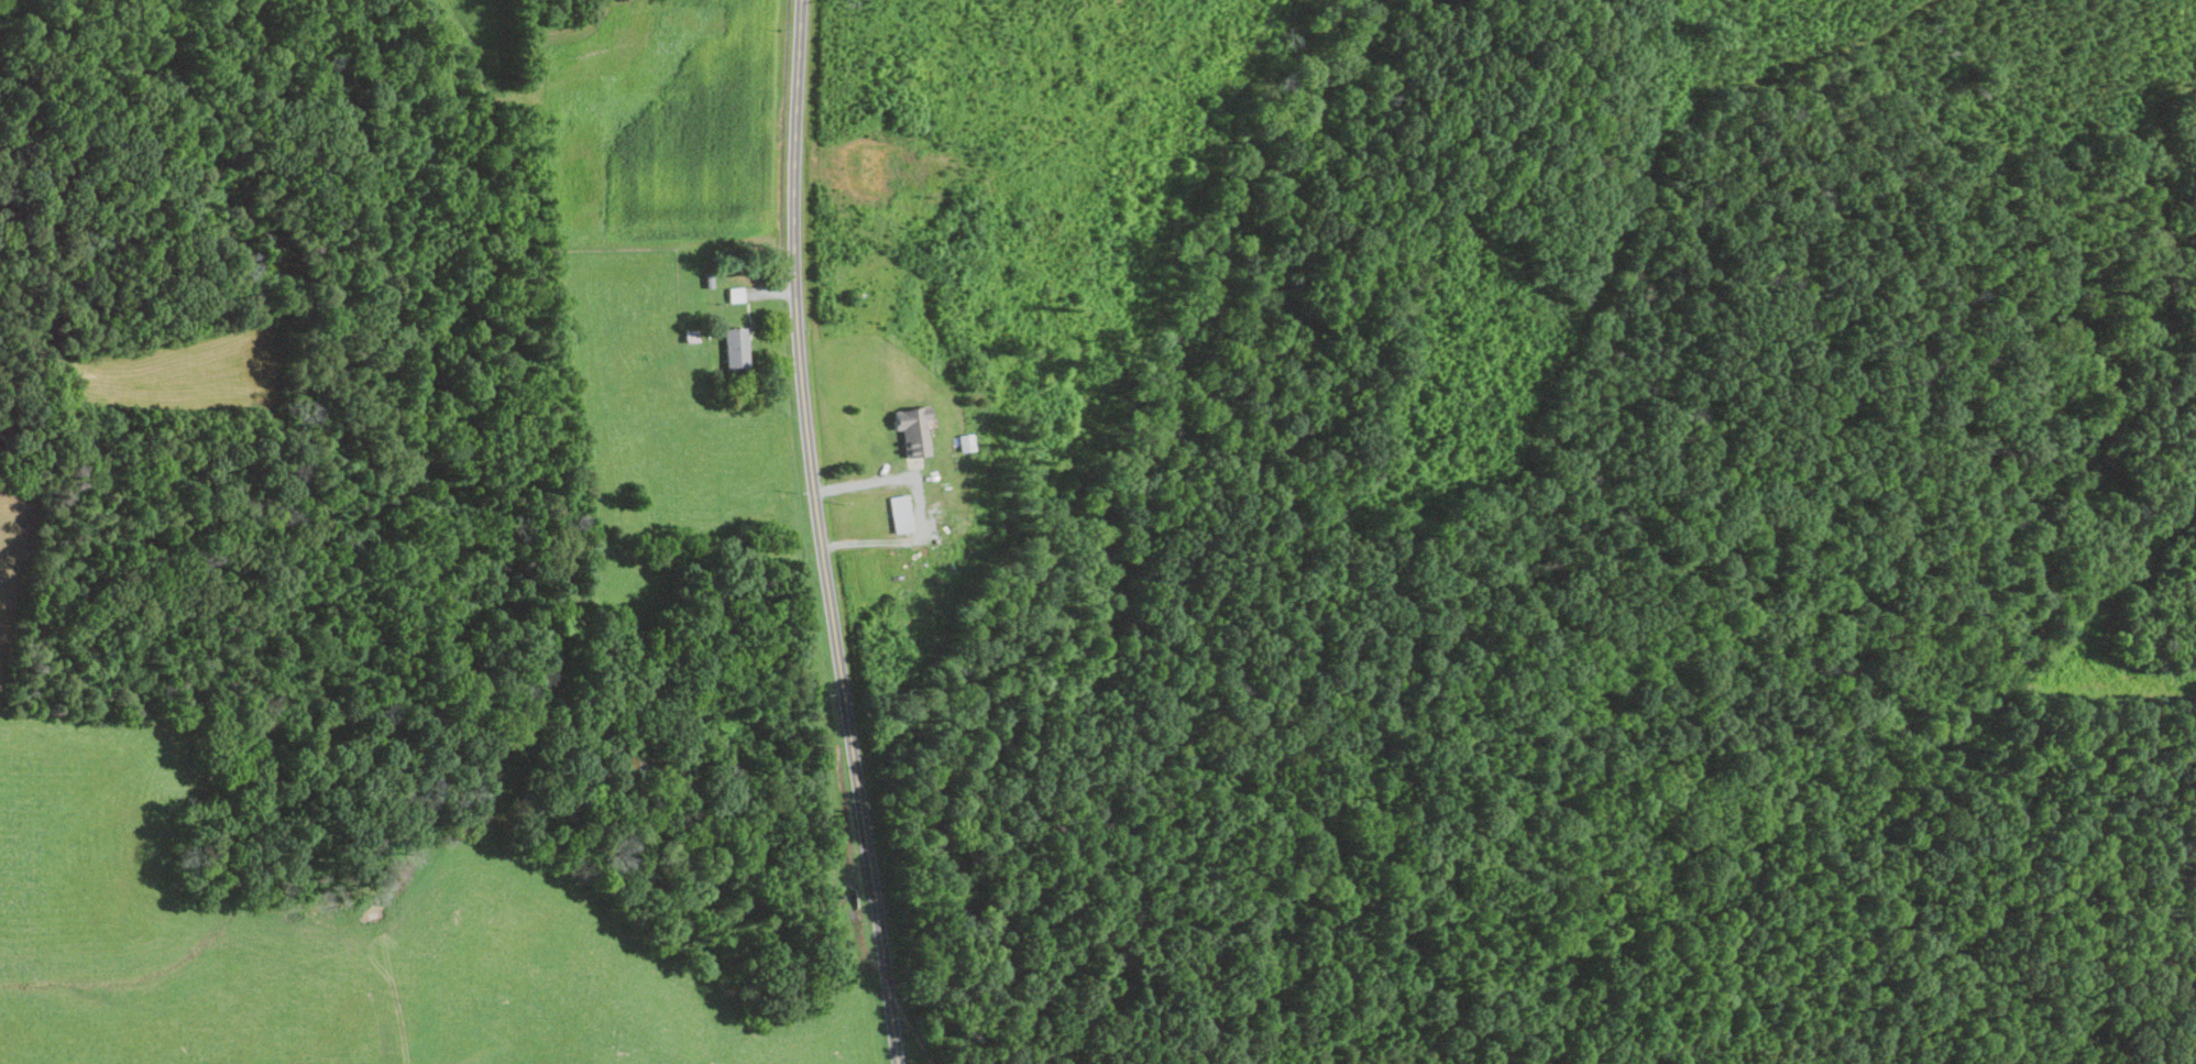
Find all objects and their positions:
building: (736, 348)
building: (914, 430)
road: (922, 505)
building: (900, 514)
road: (823, 534)

